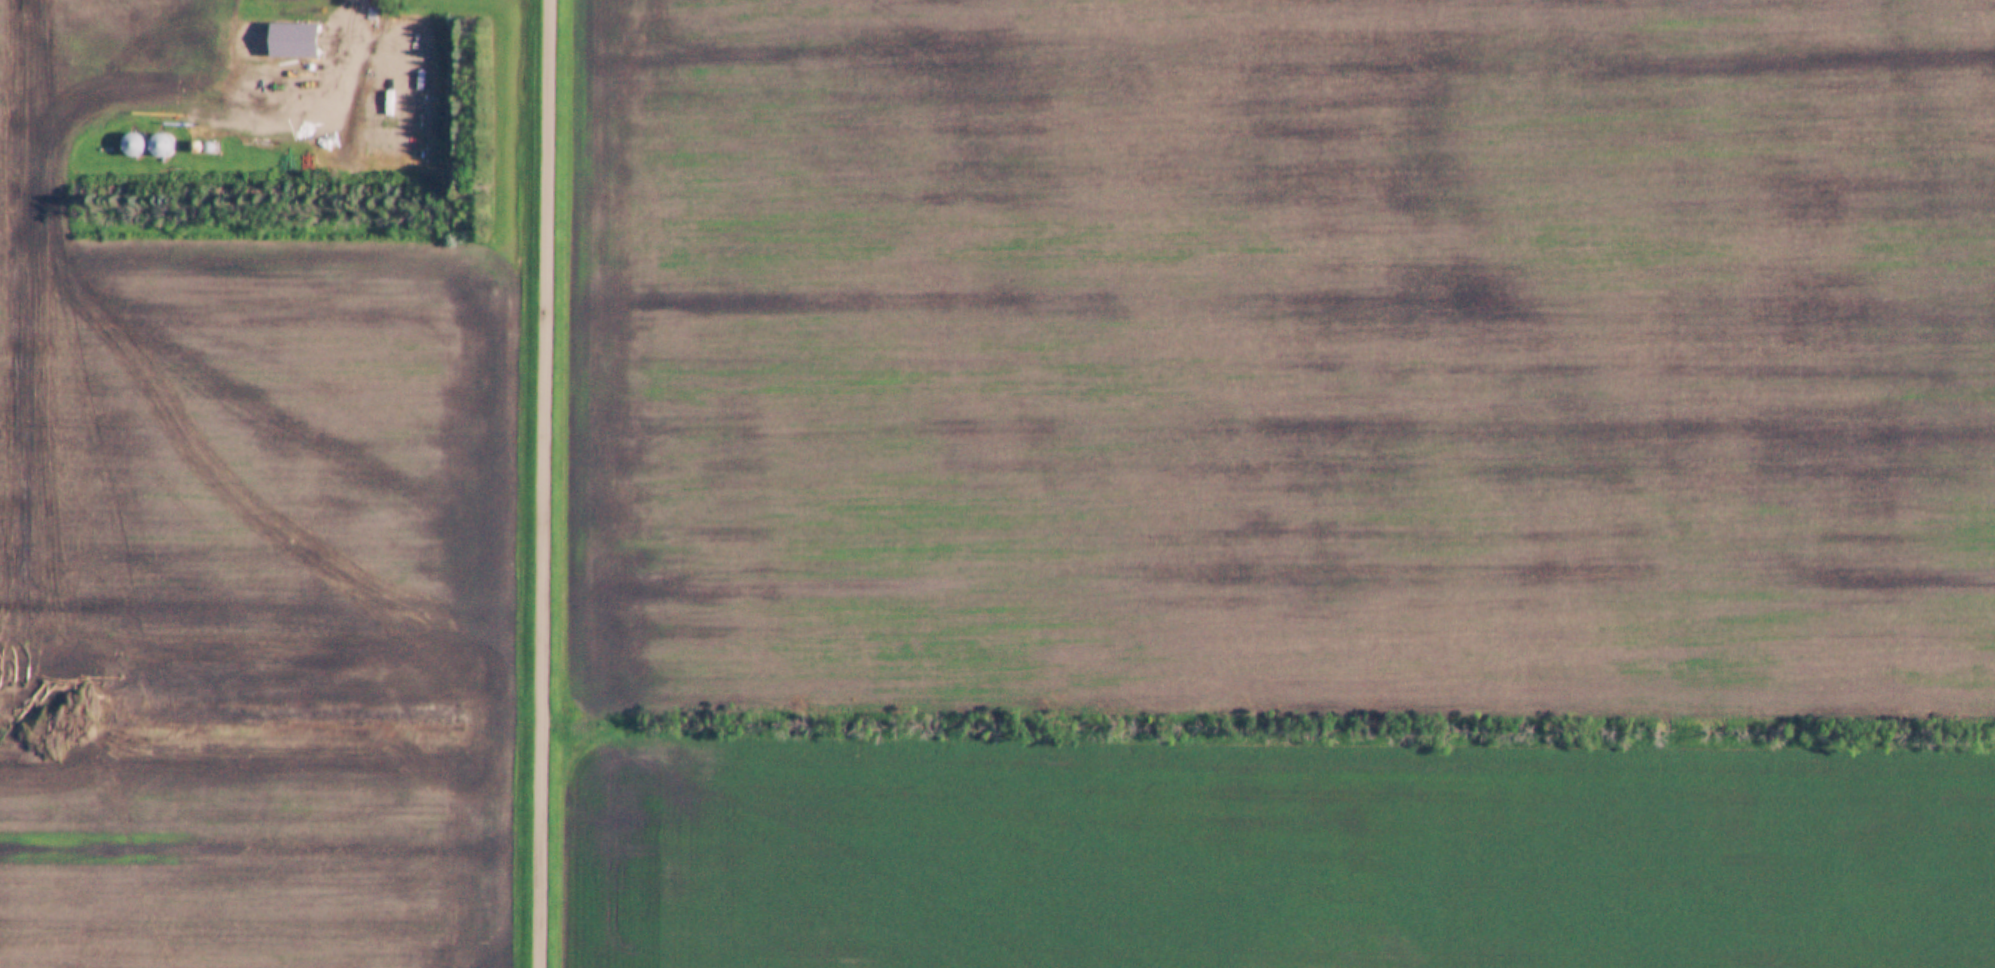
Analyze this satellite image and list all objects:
road: (284, 129)
building: (135, 145)
road: (547, 484)

